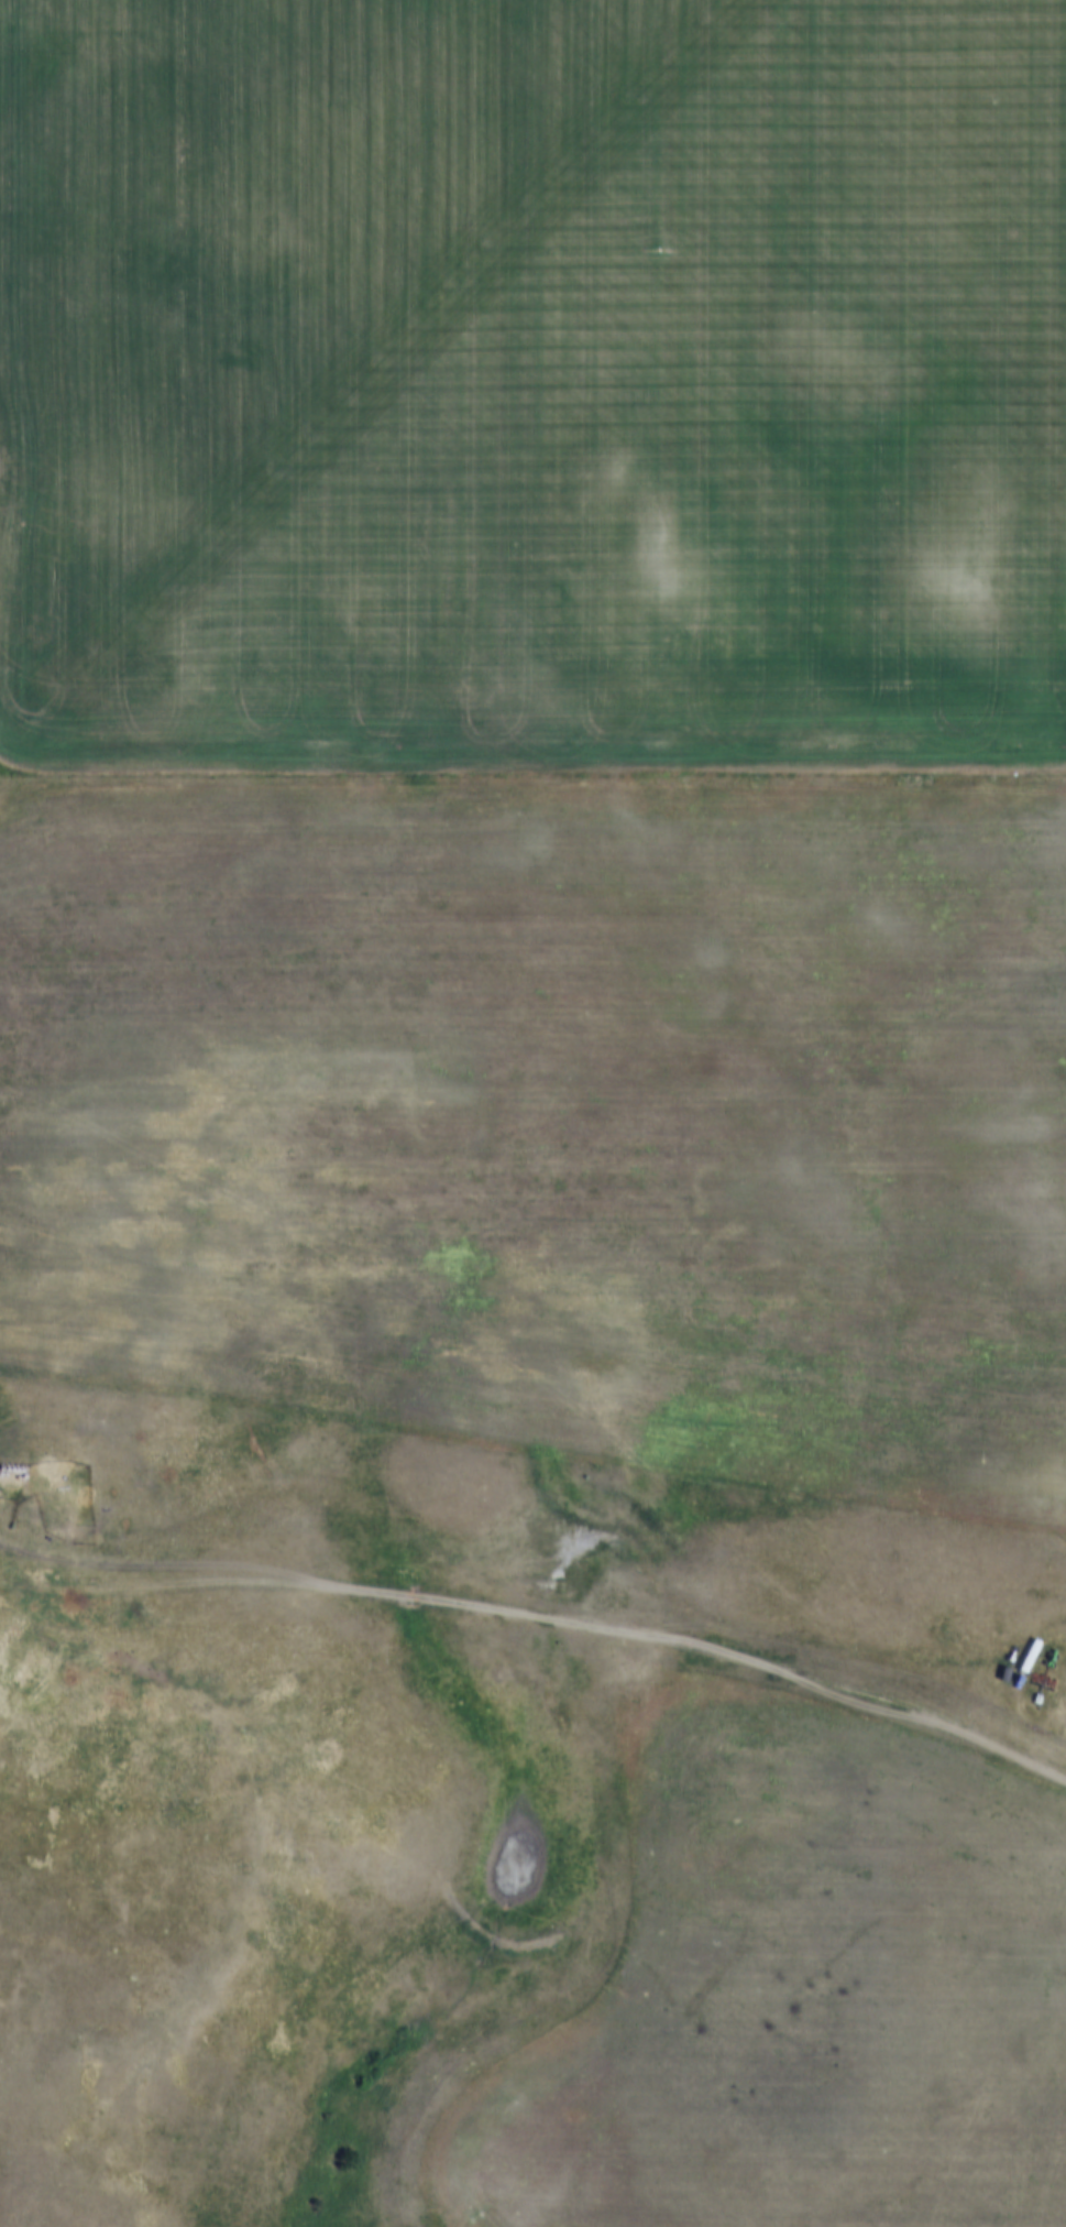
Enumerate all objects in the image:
road: (546, 1617)

